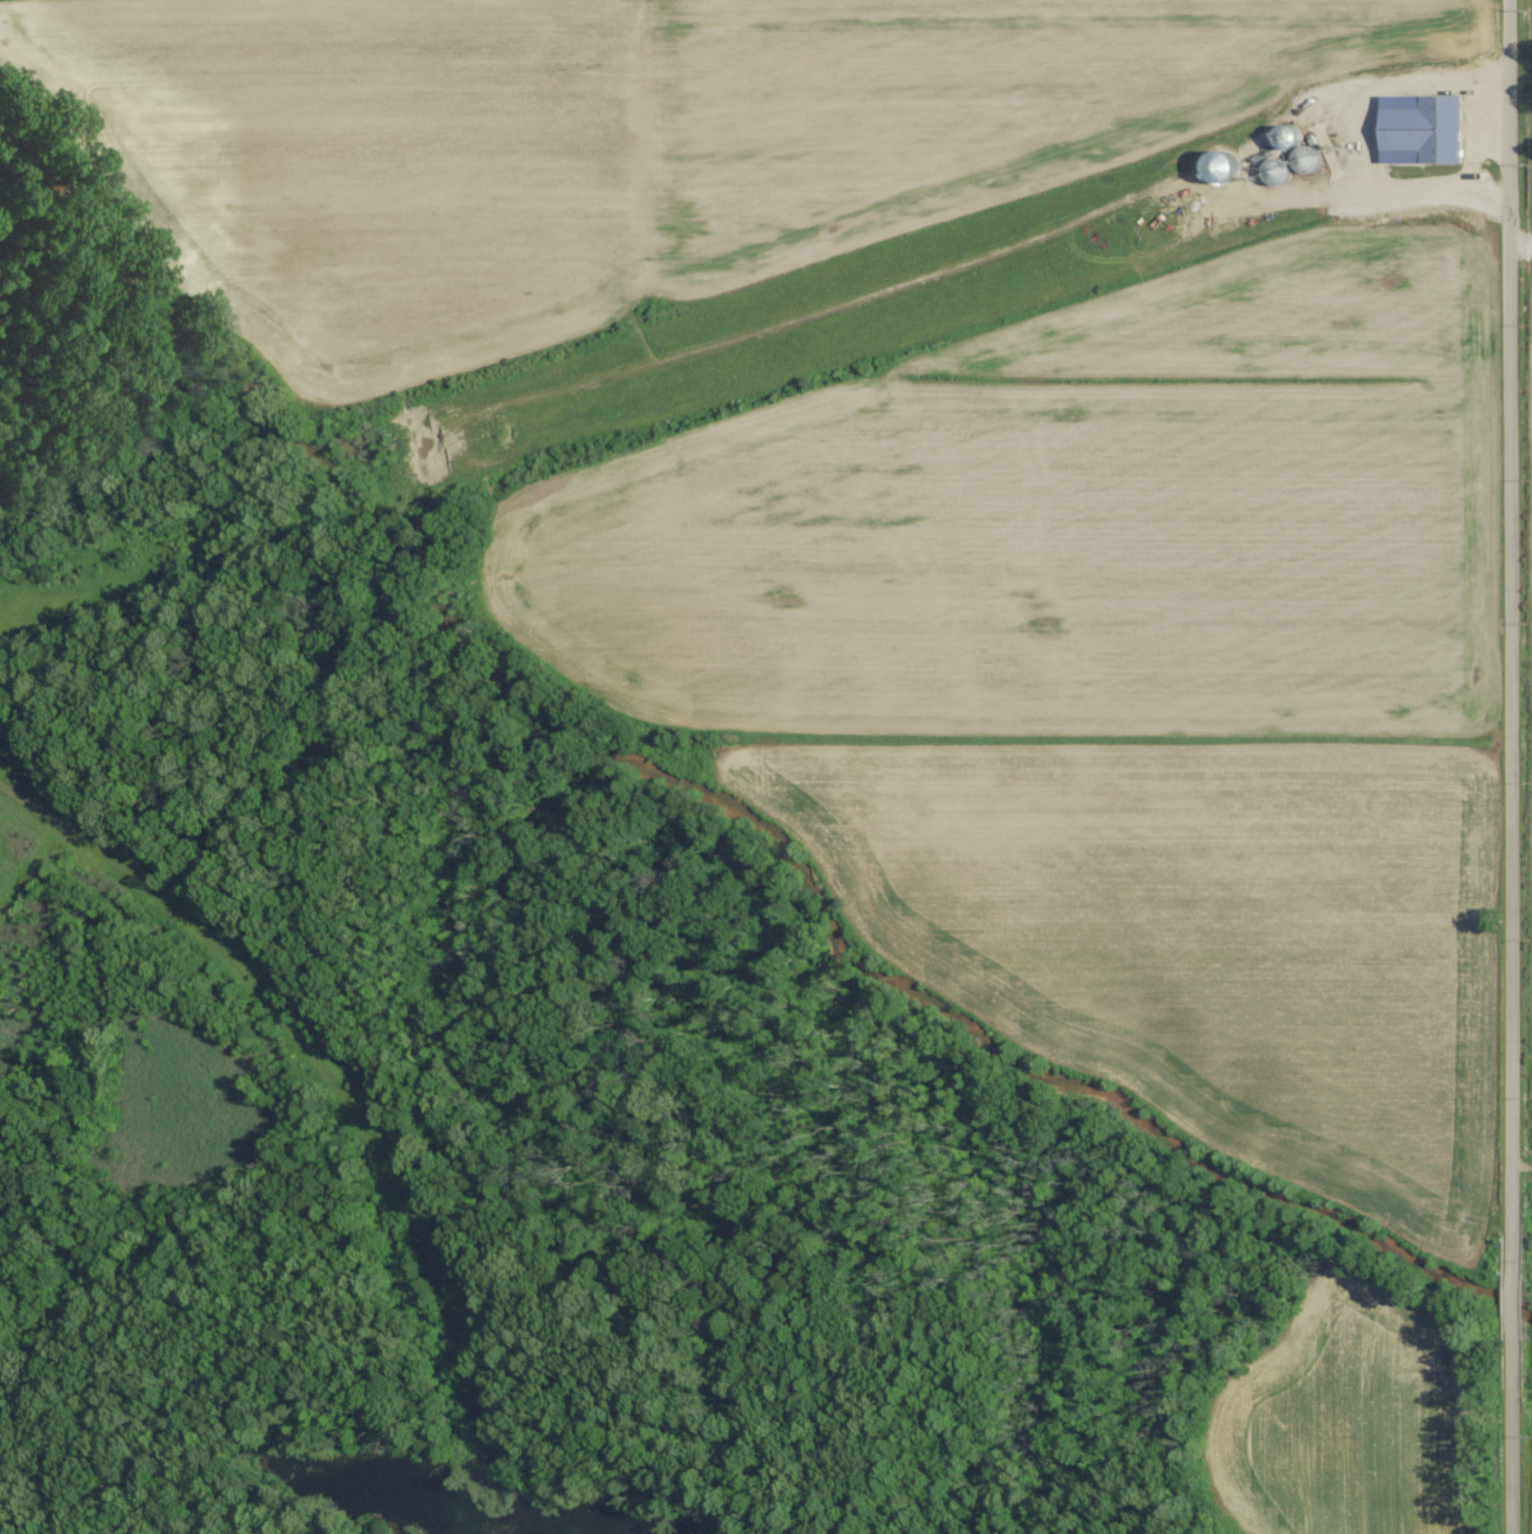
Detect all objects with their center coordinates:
building: (1425, 128)
road: (1397, 186)
road: (1520, 239)
road: (967, 270)
road: (1512, 766)

